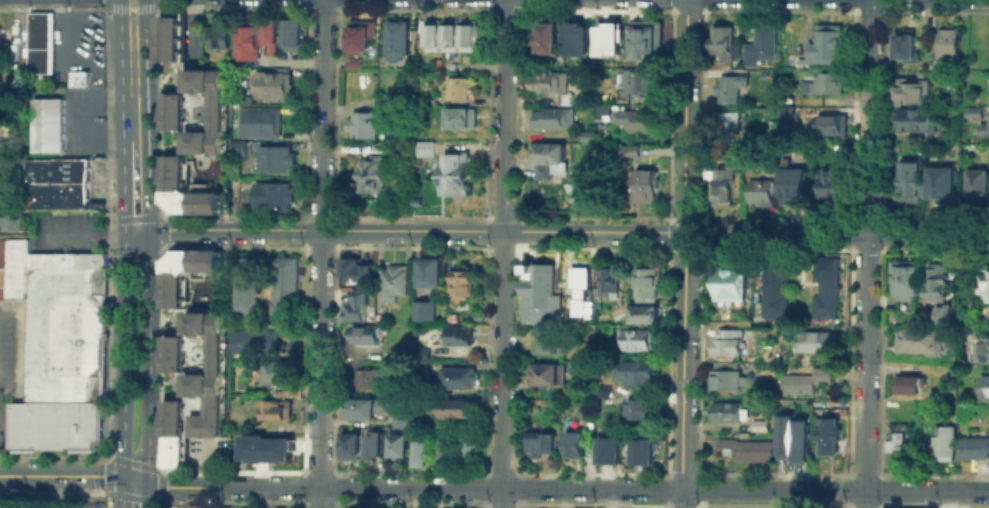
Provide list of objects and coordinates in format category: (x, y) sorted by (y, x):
road: (517, 8)
road: (131, 10)
road: (852, 12)
road: (120, 27)
road: (144, 27)
building: (270, 33)
building: (291, 33)
road: (191, 34)
building: (171, 35)
building: (359, 35)
building: (451, 36)
building: (546, 36)
building: (578, 36)
building: (218, 37)
building: (395, 37)
building: (610, 37)
building: (644, 37)
building: (247, 39)
building: (39, 41)
building: (720, 41)
building: (945, 42)
building: (759, 43)
building: (825, 44)
building: (902, 44)
building: (987, 47)
building: (406, 59)
building: (348, 60)
building: (917, 72)
building: (546, 76)
building: (78, 78)
building: (638, 79)
building: (825, 82)
building: (272, 83)
building: (457, 87)
building: (727, 87)
building: (987, 88)
building: (907, 90)
road: (133, 95)
building: (196, 110)
building: (970, 110)
building: (602, 111)
building: (782, 112)
building: (456, 117)
building: (549, 117)
building: (910, 118)
building: (640, 119)
building: (258, 120)
building: (827, 123)
building: (46, 124)
building: (362, 124)
building: (984, 124)
building: (725, 125)
building: (582, 133)
building: (238, 146)
building: (423, 147)
building: (626, 149)
building: (546, 152)
building: (986, 153)
building: (274, 158)
building: (231, 167)
building: (540, 170)
building: (555, 170)
building: (371, 173)
building: (452, 173)
building: (976, 179)
building: (789, 180)
building: (908, 180)
building: (937, 180)
building: (56, 182)
building: (643, 182)
road: (135, 184)
building: (579, 184)
building: (721, 184)
building: (828, 184)
building: (187, 189)
building: (758, 191)
building: (273, 194)
building: (10, 218)
road: (699, 218)
parking lot: (68, 230)
traffic signals: (137, 231)
road: (515, 231)
road: (562, 231)
traffic signals: (683, 231)
road: (88, 234)
road: (320, 243)
road: (683, 244)
road: (865, 244)
road: (500, 248)
road: (502, 253)
building: (355, 268)
building: (185, 270)
building: (431, 271)
building: (906, 275)
building: (608, 279)
building: (644, 280)
building: (392, 281)
building: (461, 281)
building: (936, 281)
building: (284, 283)
building: (730, 283)
building: (985, 285)
building: (578, 286)
building: (773, 287)
building: (825, 287)
building: (245, 294)
building: (540, 294)
building: (357, 304)
building: (424, 308)
building: (644, 313)
building: (944, 313)
building: (58, 317)
building: (364, 333)
building: (456, 334)
building: (636, 339)
building: (917, 340)
building: (252, 341)
building: (726, 341)
building: (817, 341)
building: (547, 343)
building: (982, 349)
building: (417, 351)
road: (123, 353)
road: (147, 356)
building: (634, 371)
building: (276, 372)
building: (545, 373)
building: (456, 377)
building: (369, 378)
building: (725, 378)
building: (805, 379)
building: (193, 381)
building: (909, 384)
building: (985, 386)
building: (290, 389)
building: (454, 405)
building: (361, 407)
building: (640, 408)
building: (274, 409)
building: (726, 410)
building: (402, 417)
building: (55, 424)
building: (756, 424)
building: (791, 434)
building: (826, 435)
building: (896, 441)
building: (943, 442)
building: (538, 443)
building: (573, 444)
building: (350, 445)
building: (373, 445)
building: (399, 445)
building: (742, 446)
building: (973, 446)
building: (264, 447)
building: (417, 448)
building: (641, 448)
building: (441, 449)
building: (606, 449)
building: (466, 450)
road: (204, 461)
road: (486, 472)
road: (846, 472)
road: (500, 473)
road: (514, 473)
road: (682, 474)
road: (61, 475)
traffic signals: (122, 479)
road: (134, 481)
traffic signals: (147, 484)
road: (567, 488)
road: (57, 489)
road: (122, 493)
road: (147, 496)
road: (318, 498)
road: (681, 498)
road: (864, 499)
parking lot: (54, 502)
road: (56, 503)
building: (202, 504)
road: (682, 505)

